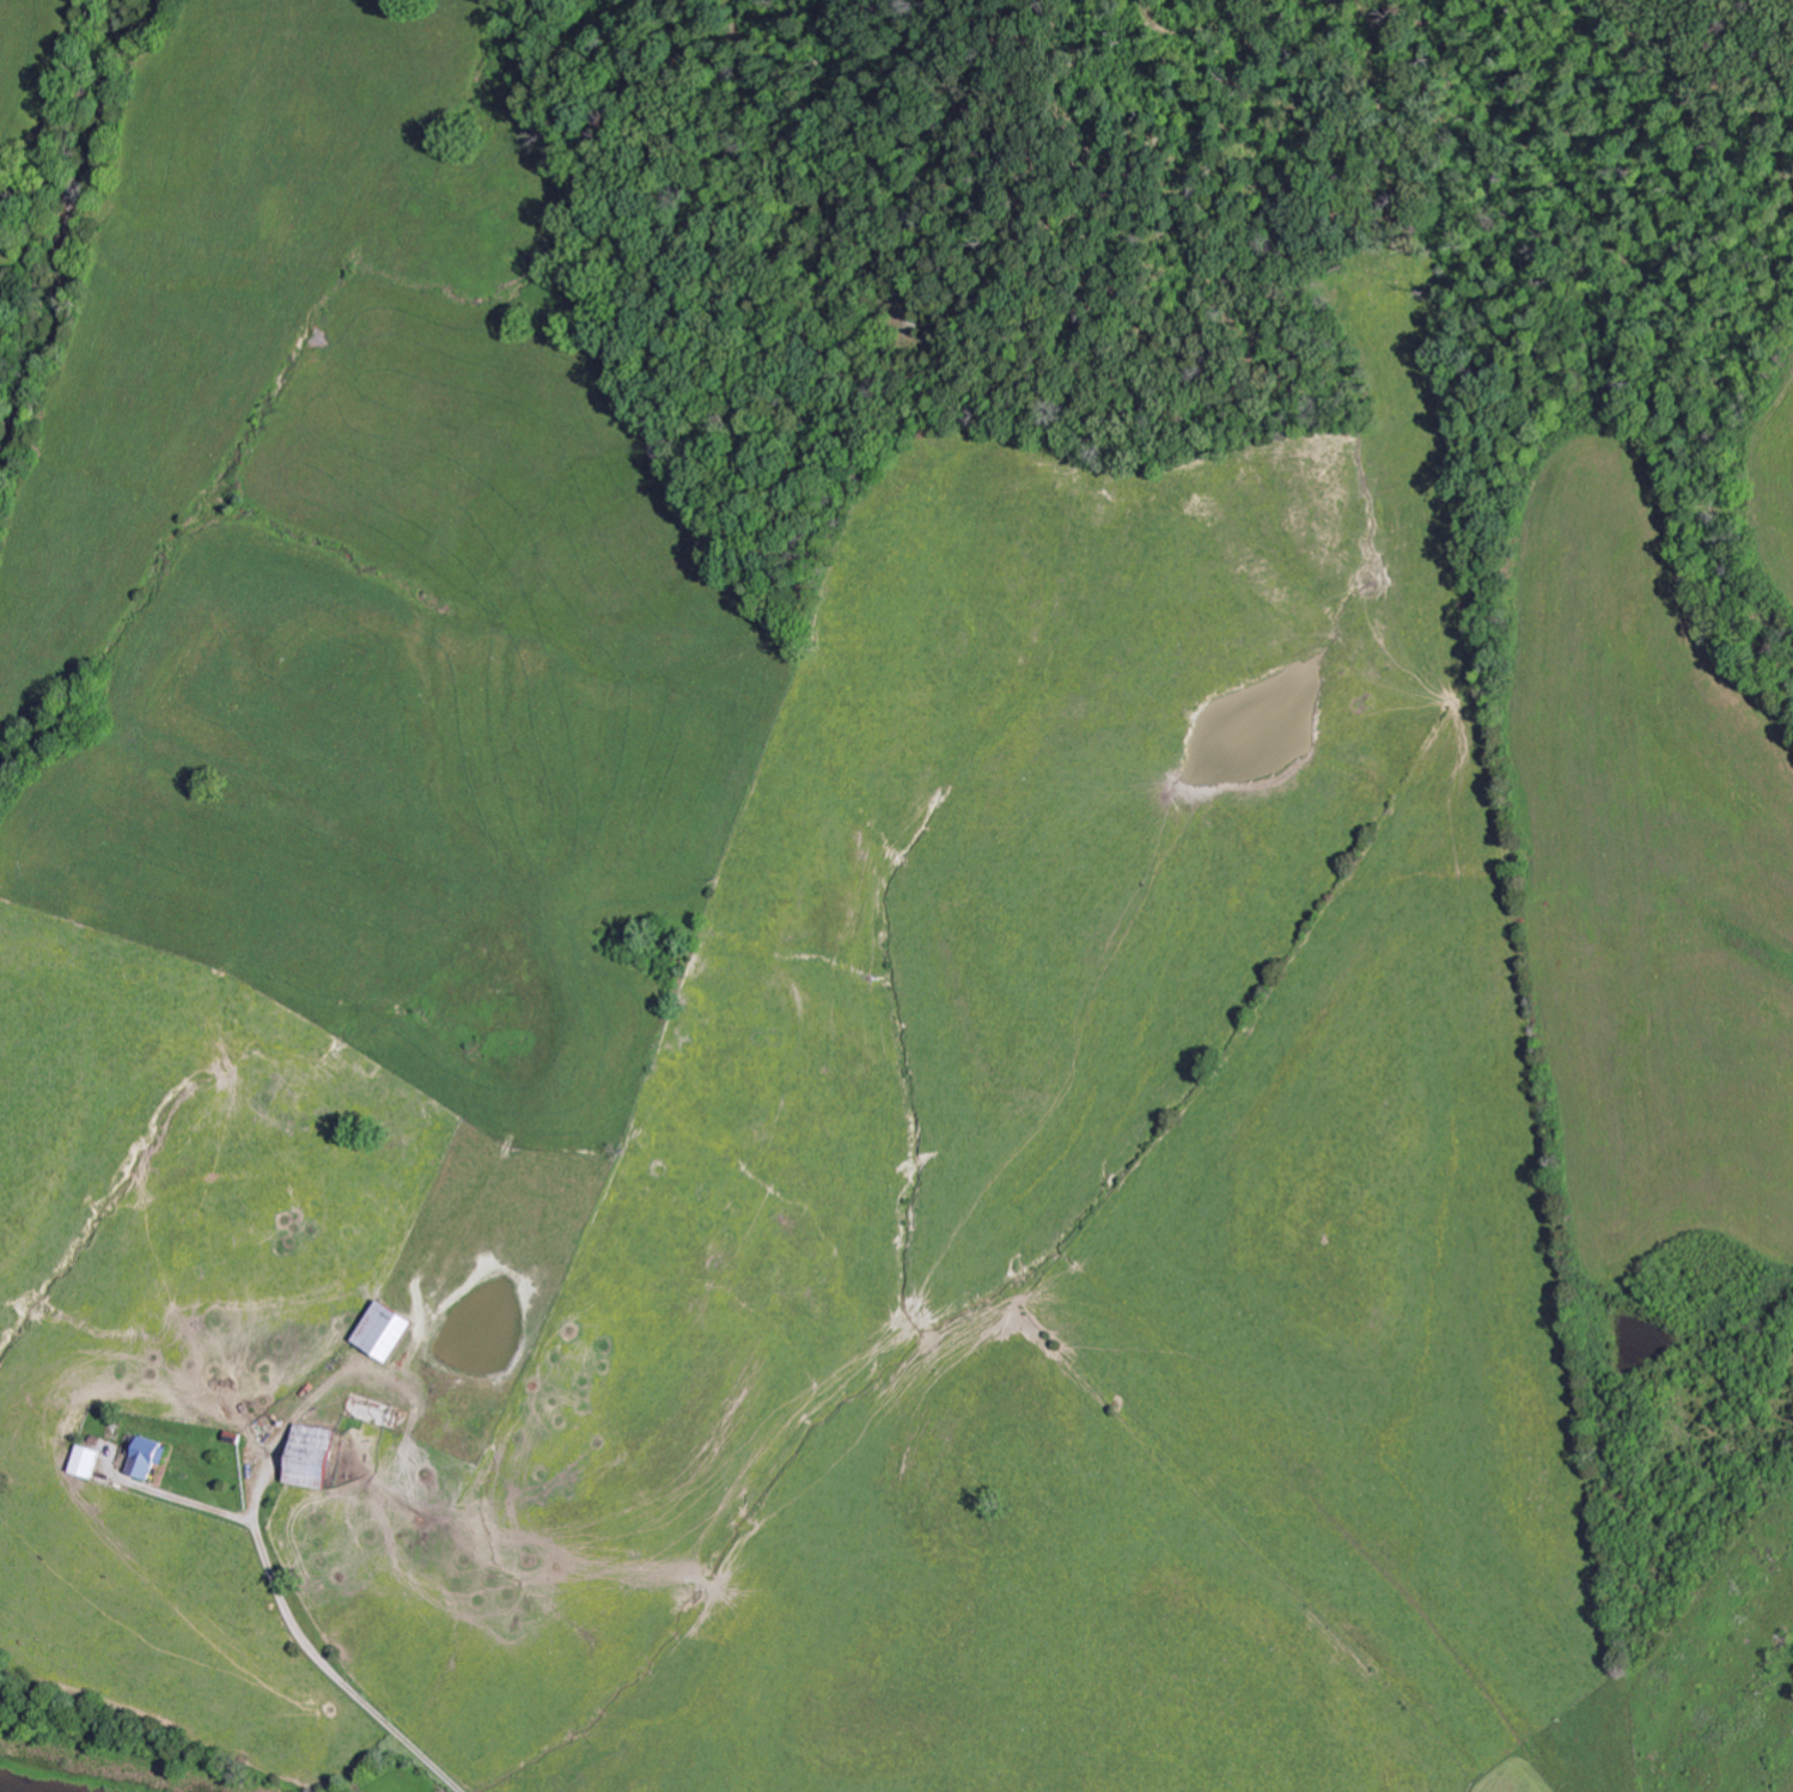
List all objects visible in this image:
building: (388, 1328)
building: (147, 1455)
building: (316, 1455)

